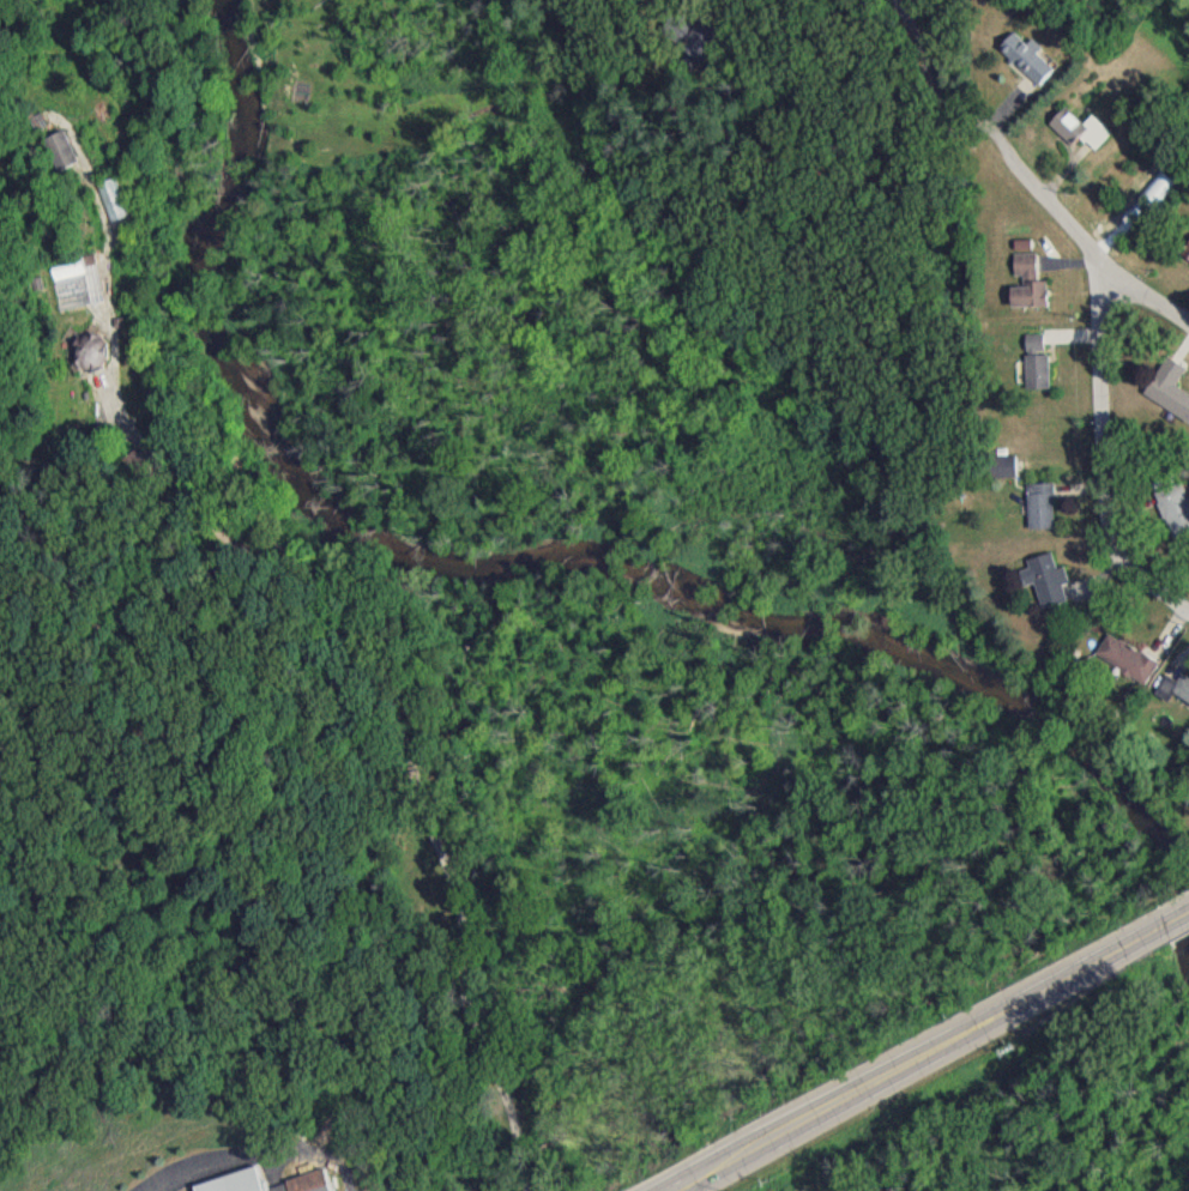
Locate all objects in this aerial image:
building: (698, 48)
building: (1022, 64)
building: (1075, 134)
road: (1022, 174)
building: (109, 205)
building: (1184, 256)
building: (74, 289)
building: (1025, 289)
building: (85, 358)
building: (1033, 368)
building: (1170, 398)
road: (1106, 448)
building: (1003, 472)
building: (1037, 513)
building: (1173, 514)
building: (1042, 587)
building: (1123, 666)
building: (1179, 695)
road: (408, 755)
road: (933, 1052)
building: (228, 1185)
building: (302, 1186)

